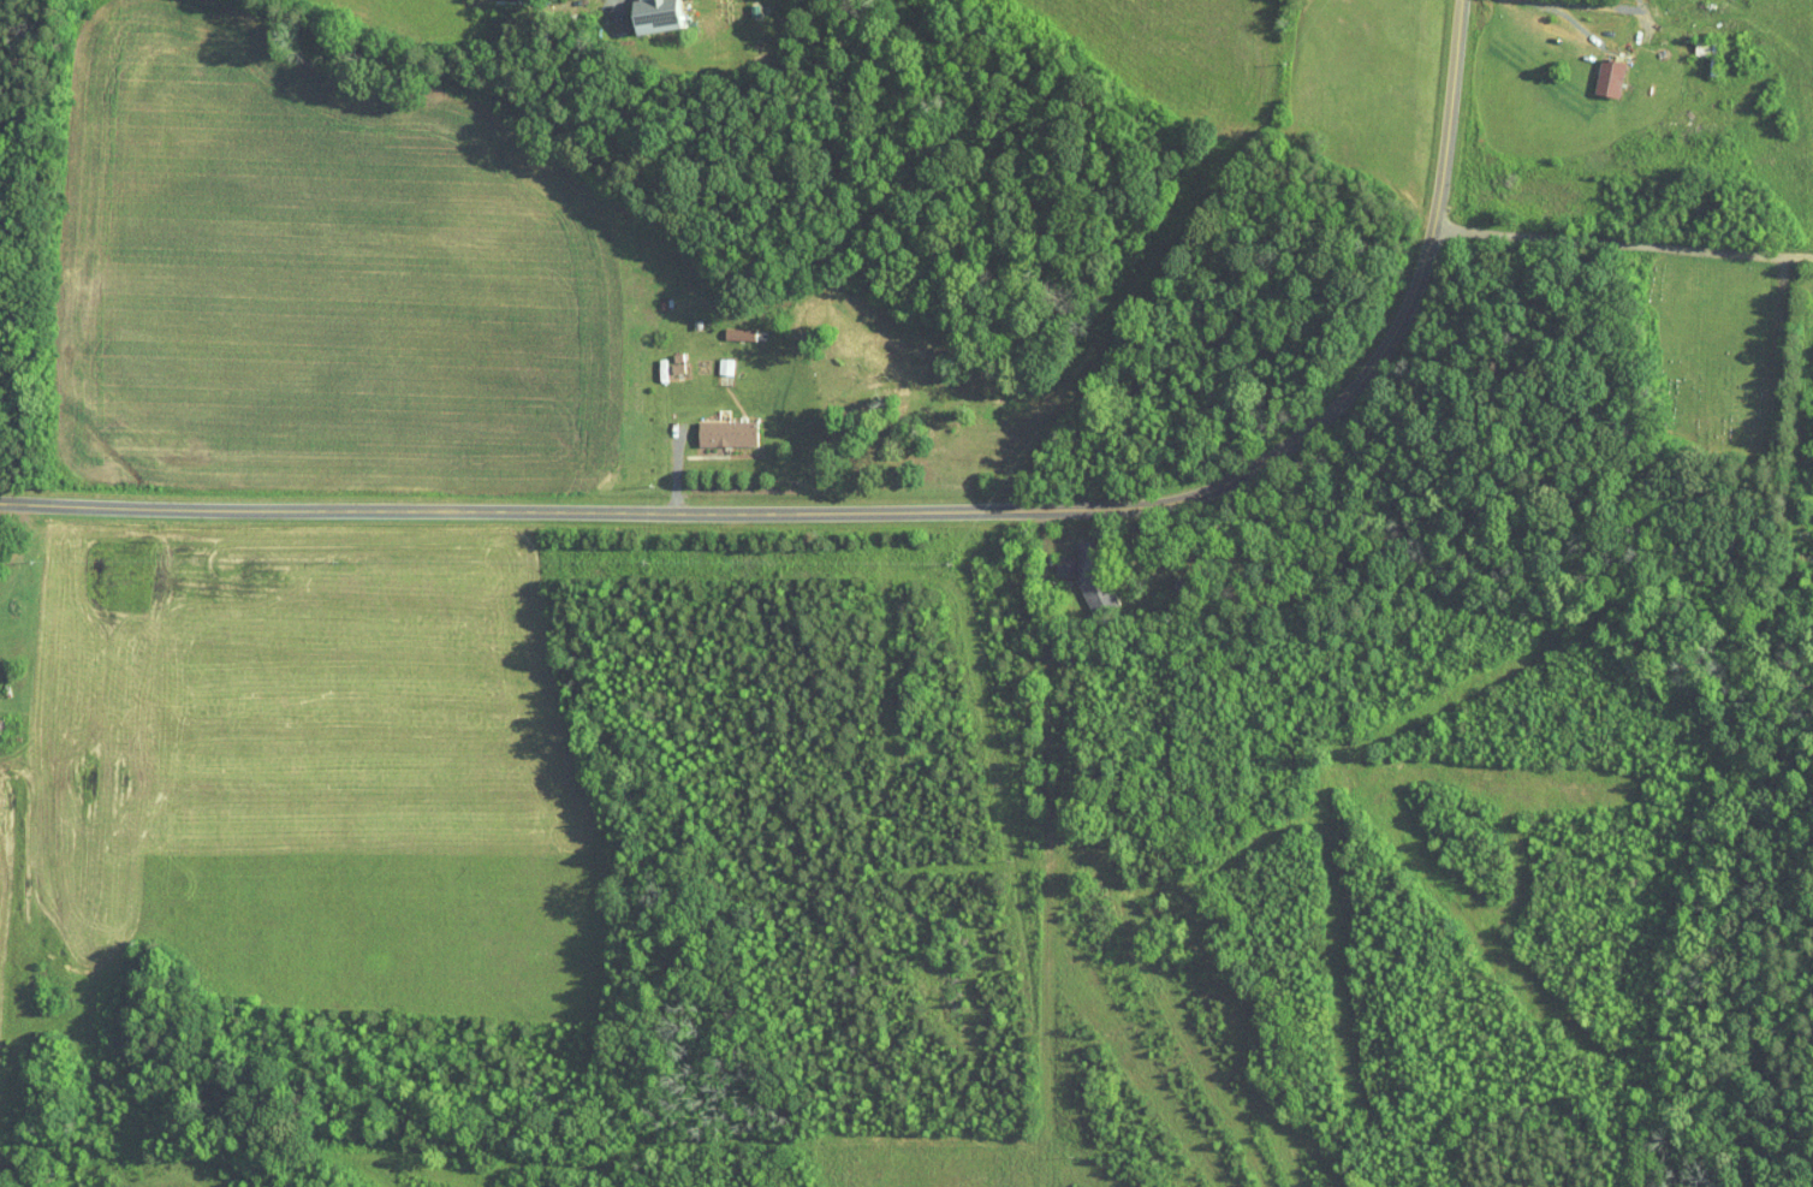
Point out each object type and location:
road: (631, 8)
road: (1535, 11)
building: (1594, 69)
road: (1623, 236)
building: (725, 326)
park: (1718, 351)
building: (712, 425)
road: (900, 514)
road: (1111, 529)
building: (1050, 558)
road: (1060, 849)

